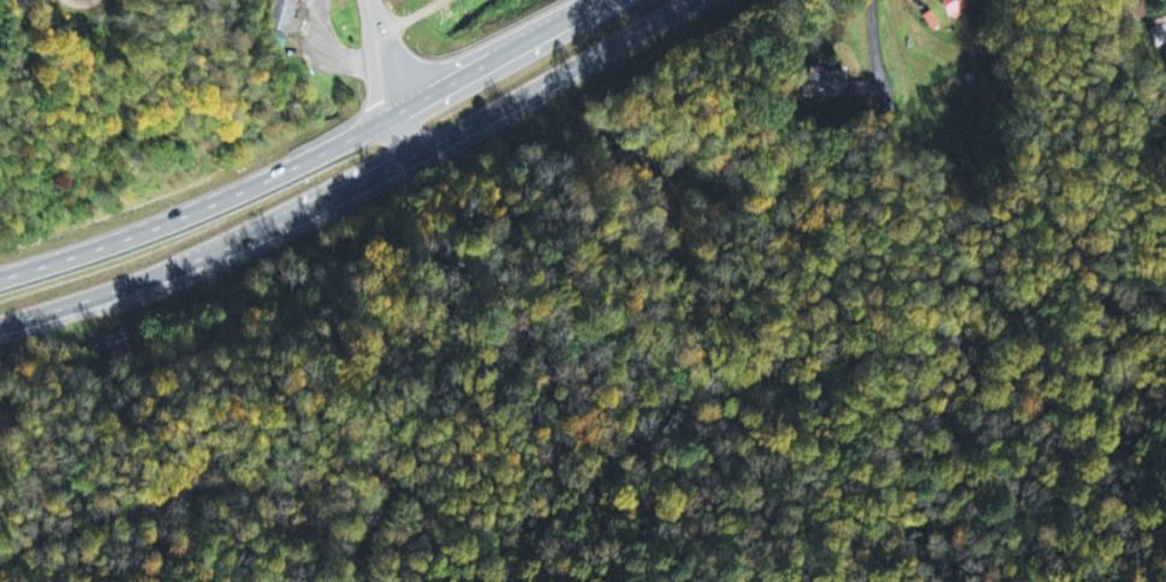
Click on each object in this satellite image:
building: (962, 6)
building: (286, 14)
road: (412, 18)
road: (875, 38)
road: (391, 72)
building: (823, 84)
road: (311, 156)
road: (351, 177)
road: (240, 489)

